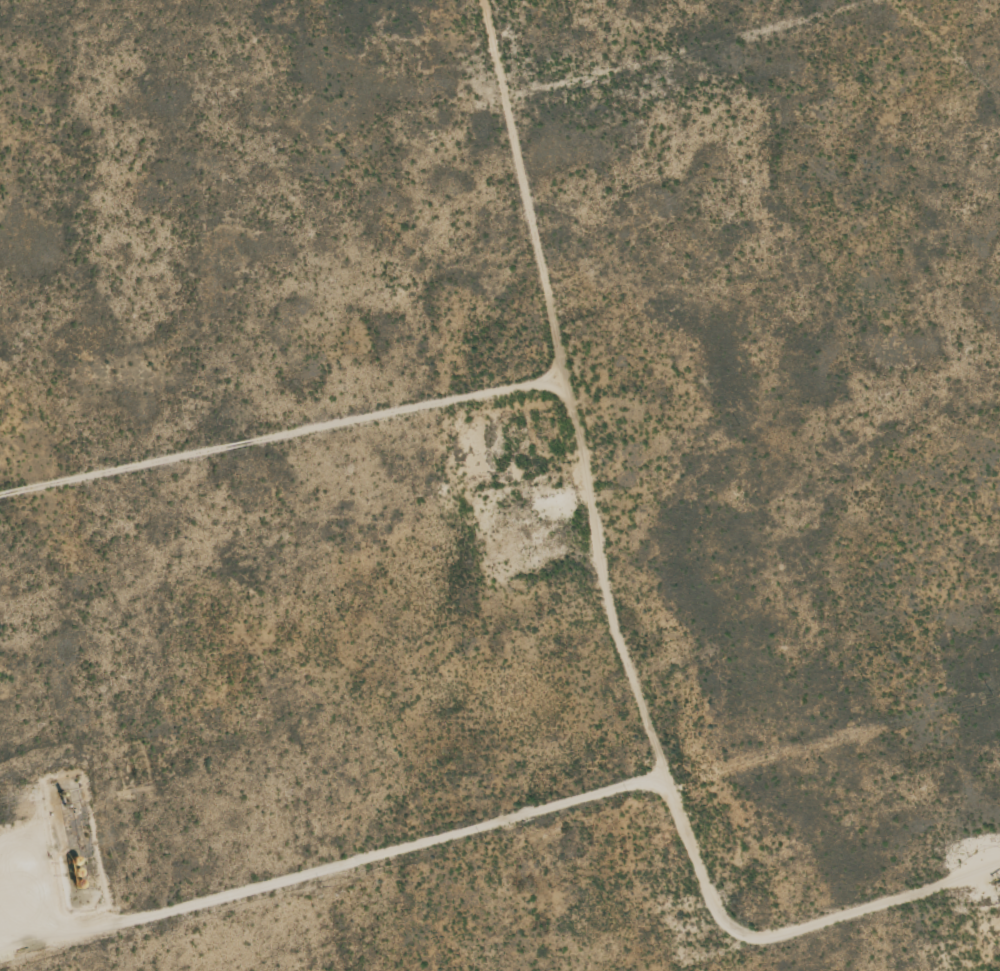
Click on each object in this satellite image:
road: (741, 75)
road: (947, 956)

